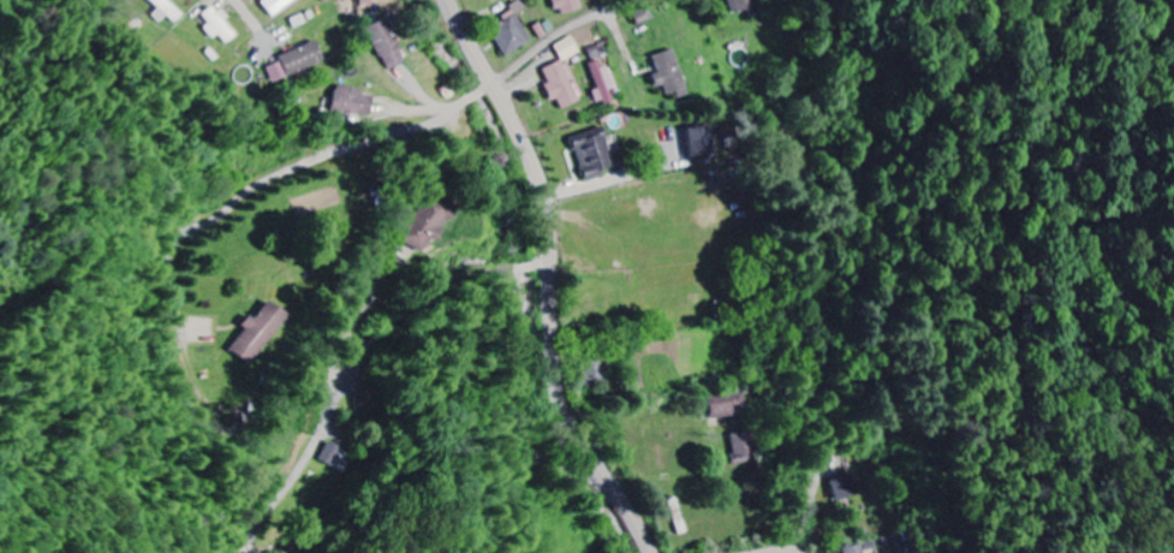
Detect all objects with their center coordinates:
building: (280, 5)
building: (746, 5)
building: (570, 6)
building: (177, 10)
road: (252, 12)
building: (225, 24)
building: (511, 30)
road: (558, 34)
building: (388, 44)
road: (626, 46)
building: (568, 48)
building: (600, 50)
building: (300, 60)
building: (673, 73)
building: (604, 83)
building: (561, 84)
building: (357, 101)
building: (704, 142)
building: (595, 154)
road: (297, 170)
building: (425, 224)
road: (552, 278)
building: (262, 331)
road: (360, 358)
building: (728, 404)
building: (745, 447)
building: (335, 453)
building: (847, 487)
building: (857, 548)
road: (787, 551)

